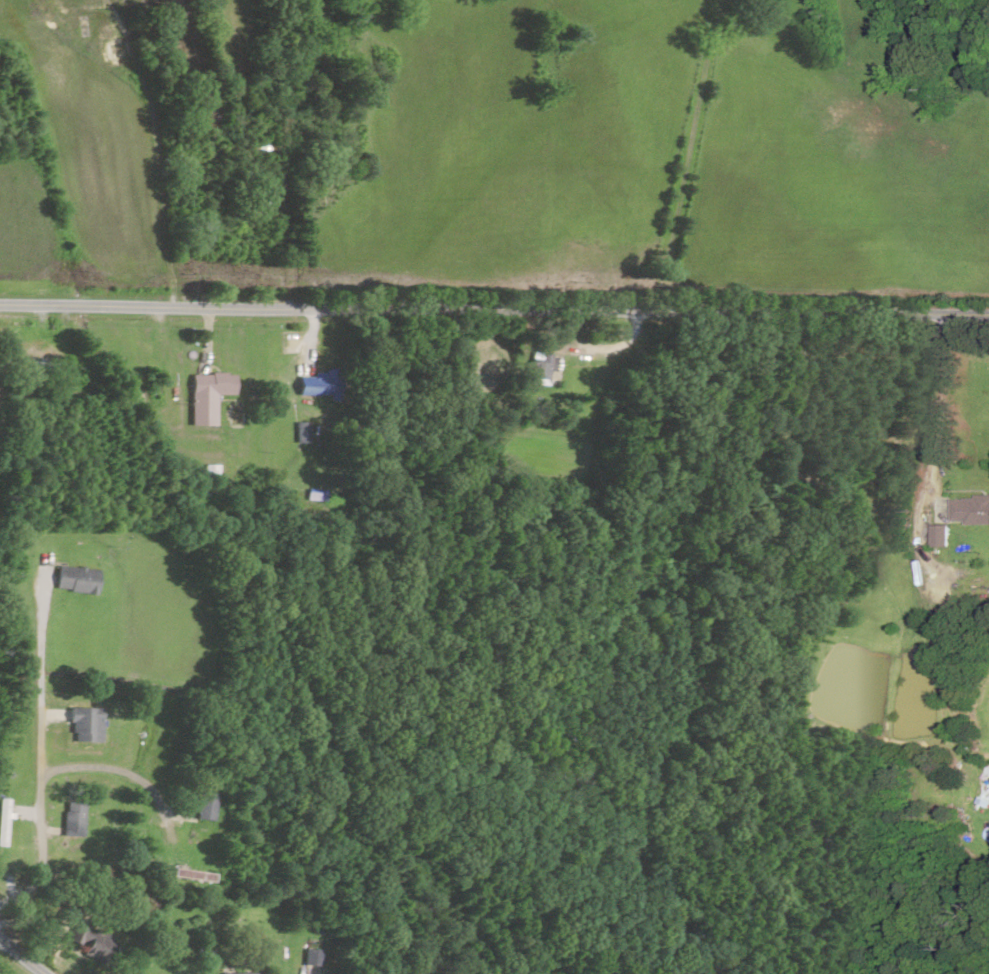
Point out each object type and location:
building: (258, 148)
road: (494, 287)
building: (539, 369)
building: (42, 371)
building: (314, 385)
building: (205, 397)
building: (299, 434)
building: (970, 512)
building: (332, 513)
building: (939, 537)
building: (74, 581)
building: (83, 726)
building: (203, 807)
building: (73, 822)
building: (2, 824)
road: (448, 878)
road: (50, 935)
building: (83, 941)
building: (308, 958)
building: (248, 973)

